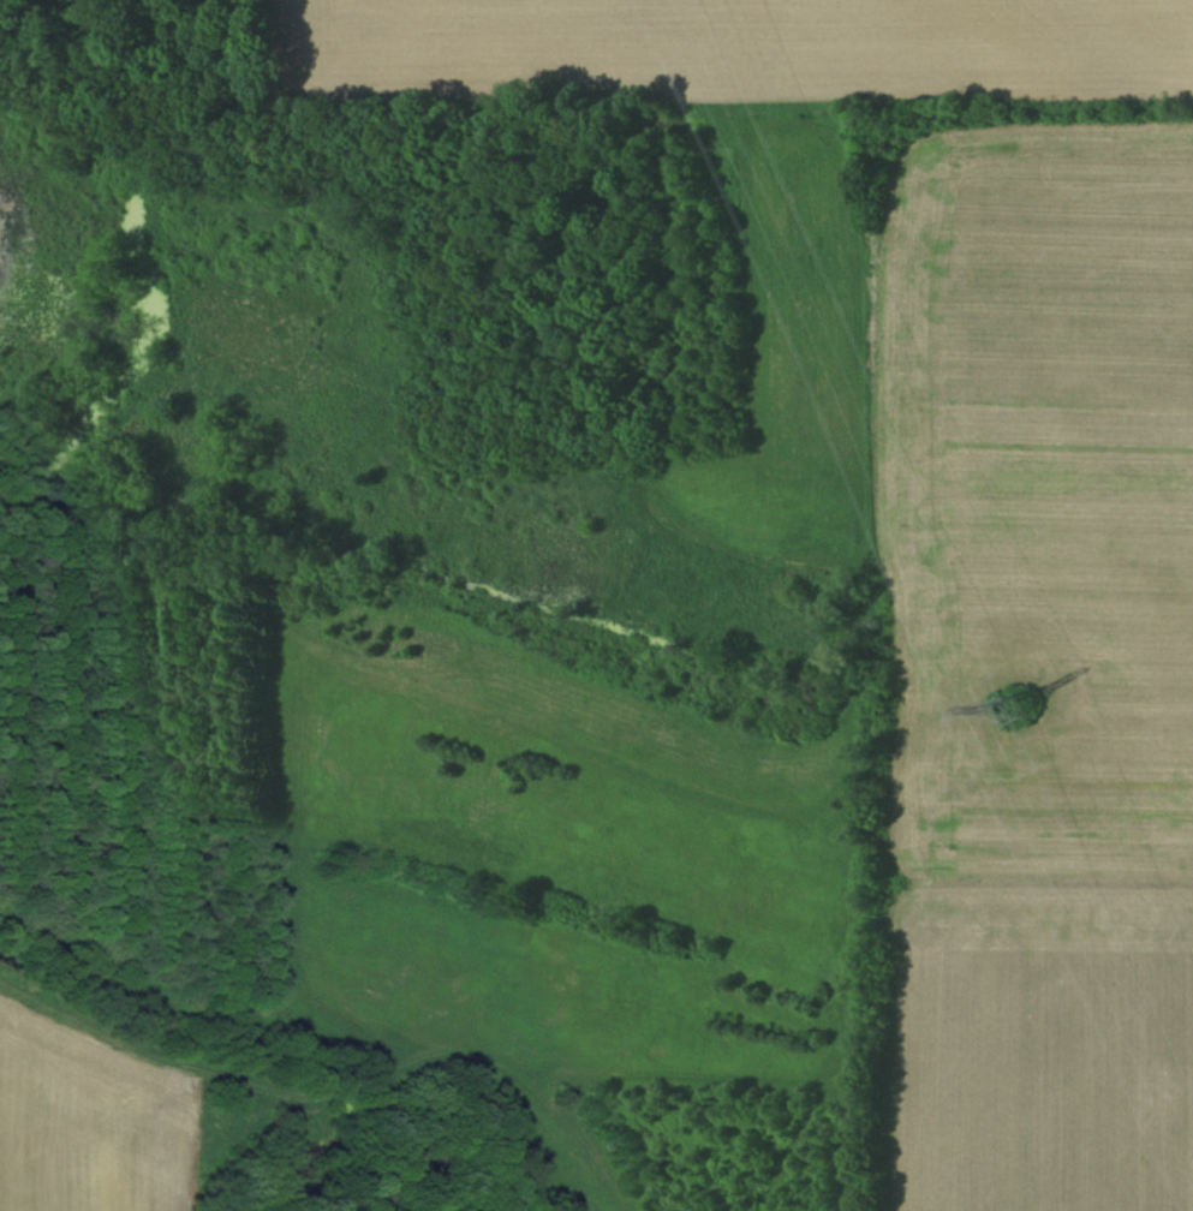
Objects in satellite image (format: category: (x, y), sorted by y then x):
power tower: (1027, 699)

